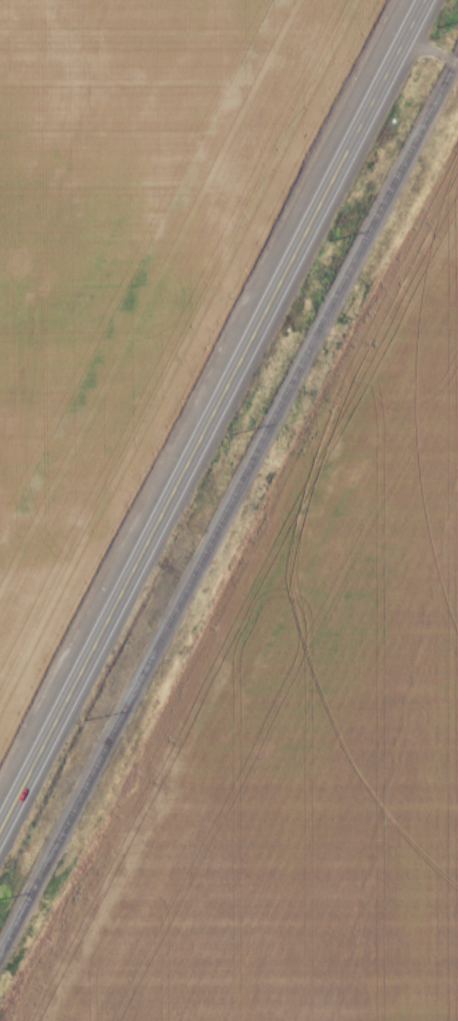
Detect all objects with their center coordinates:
road: (210, 413)
railway: (229, 498)

